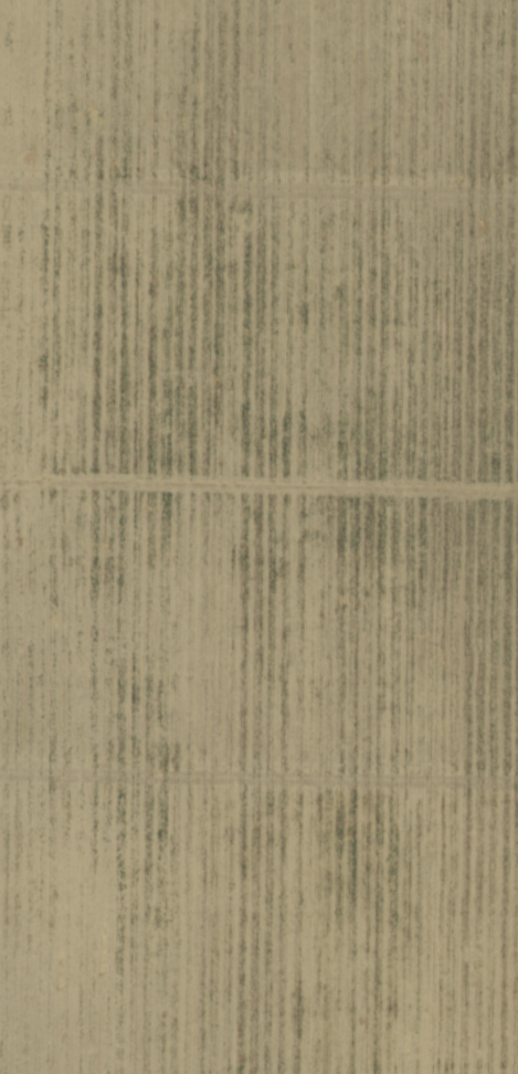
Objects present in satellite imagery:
crop: (258, 537)

